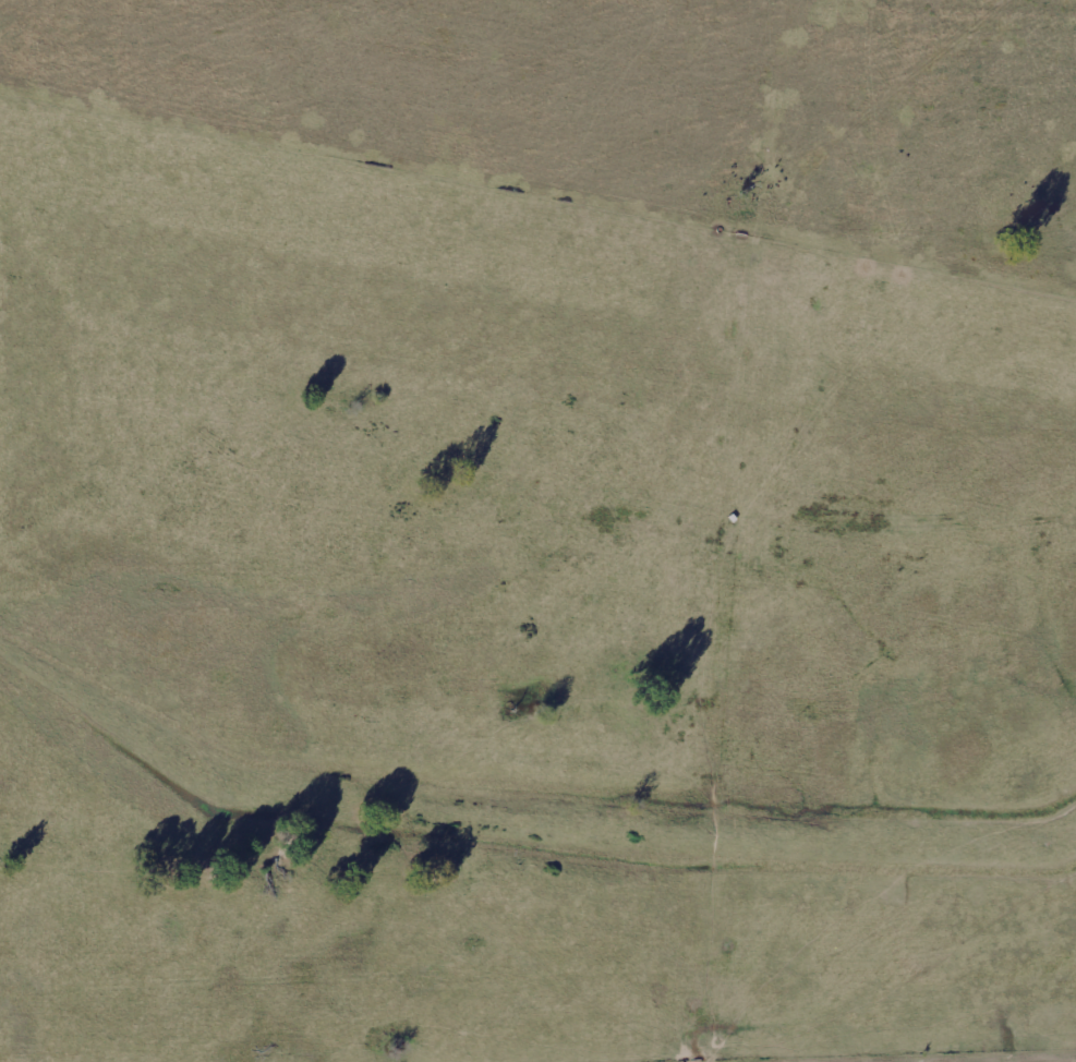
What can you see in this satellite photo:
road: (213, 544)

